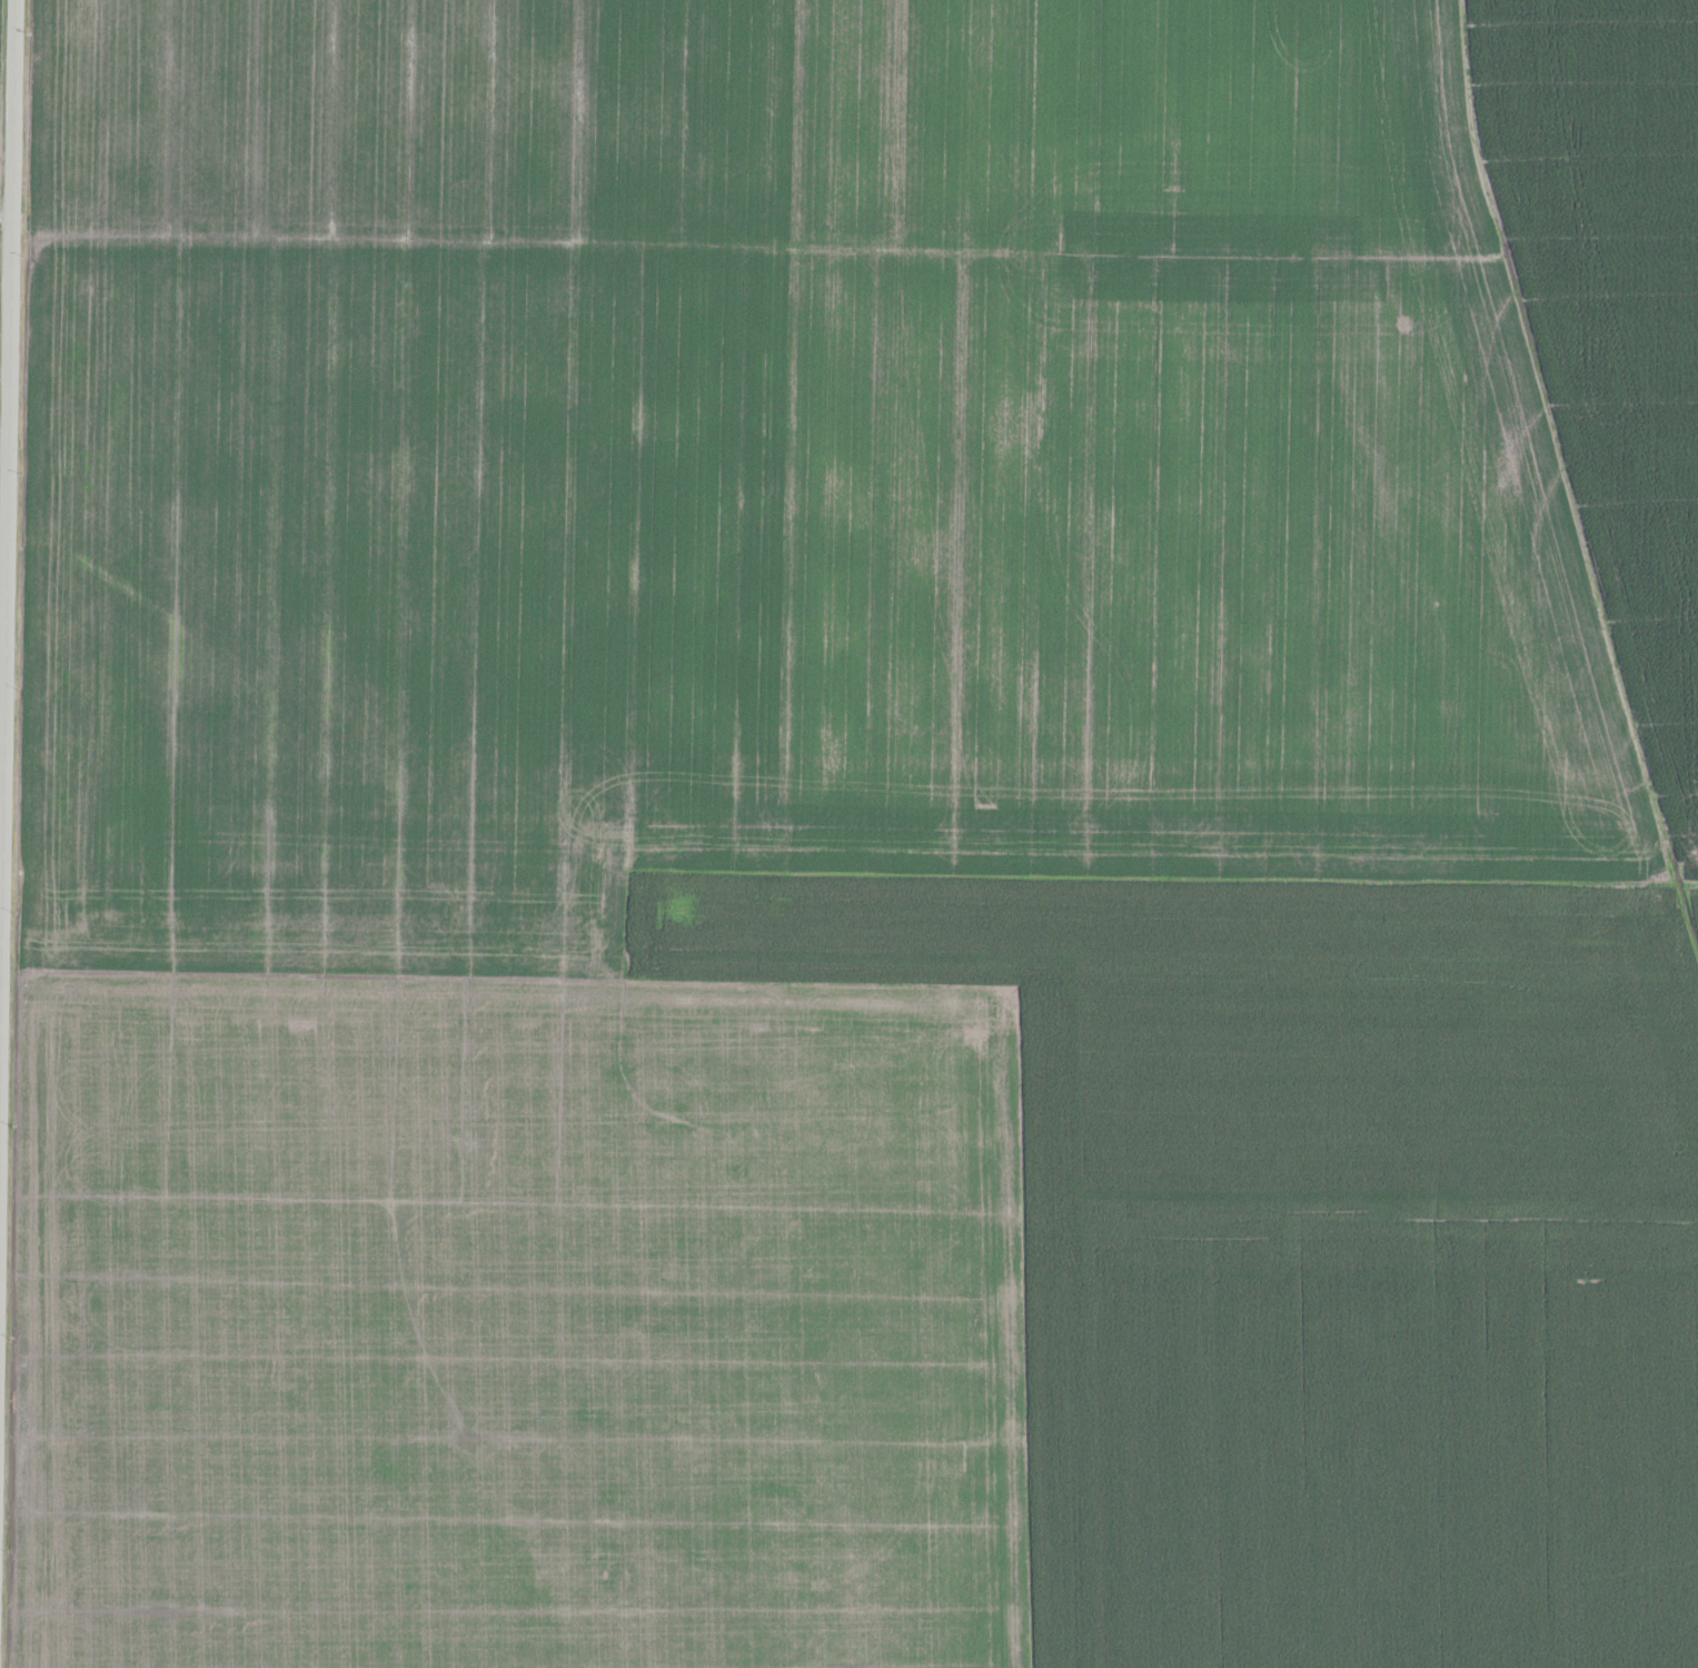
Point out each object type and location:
road: (7, 456)

